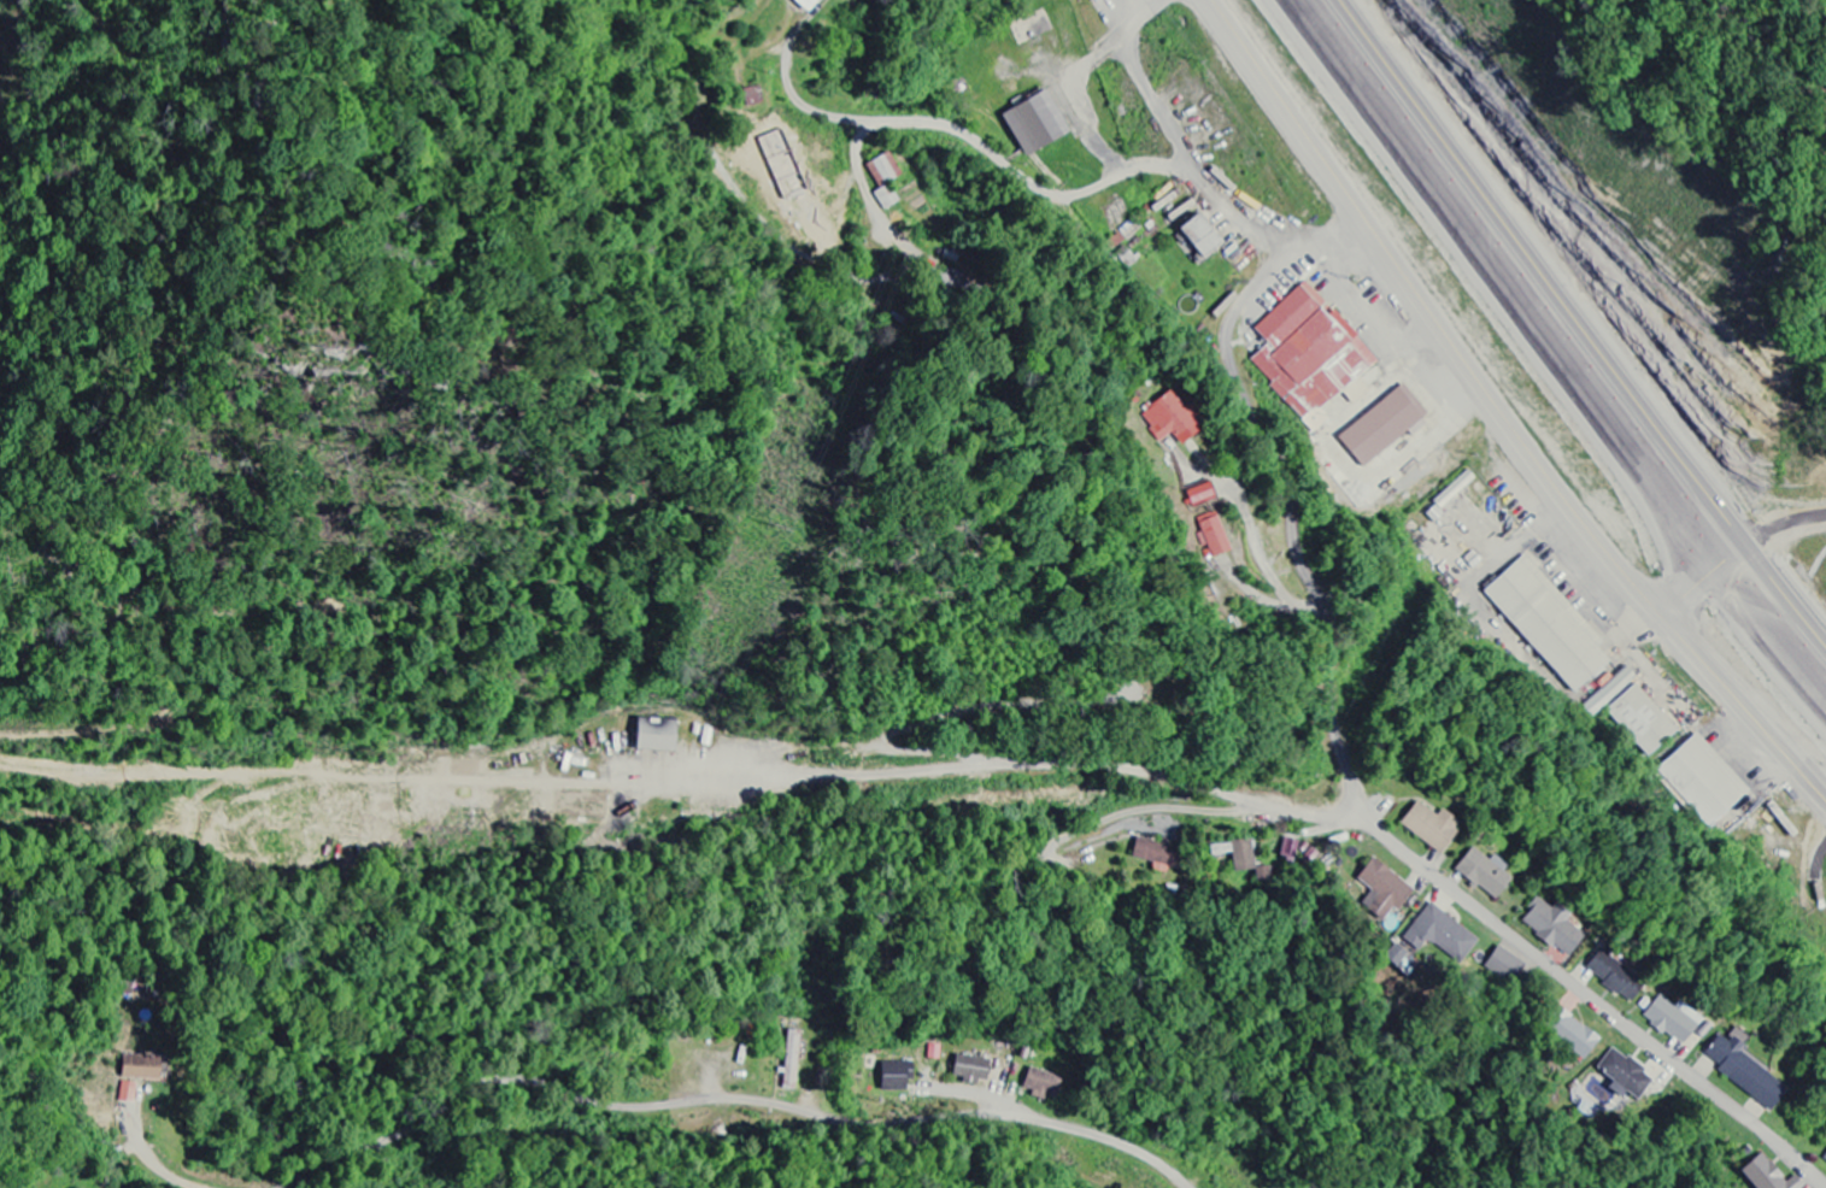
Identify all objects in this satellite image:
building: (1090, 0)
building: (805, 5)
building: (753, 98)
building: (1034, 125)
road: (1200, 163)
building: (883, 181)
building: (1182, 216)
building: (1199, 237)
road: (1552, 353)
building: (1309, 355)
road: (1501, 408)
building: (1172, 420)
building: (1384, 427)
building: (1202, 495)
building: (1213, 537)
building: (1548, 624)
building: (1609, 693)
building: (1642, 721)
building: (656, 735)
road: (1000, 760)
building: (1702, 781)
road: (1356, 796)
building: (1431, 827)
building: (1288, 848)
building: (1157, 854)
building: (1237, 854)
building: (1484, 872)
building: (1384, 888)
building: (1552, 927)
building: (1440, 935)
road: (811, 936)
building: (1504, 964)
building: (1614, 976)
building: (1672, 1019)
building: (1569, 1033)
building: (792, 1060)
building: (139, 1068)
building: (970, 1069)
building: (1744, 1072)
building: (1624, 1075)
building: (896, 1076)
building: (1041, 1084)
building: (128, 1093)
road: (862, 1122)
road: (406, 1130)
building: (1825, 1158)
building: (1766, 1175)

